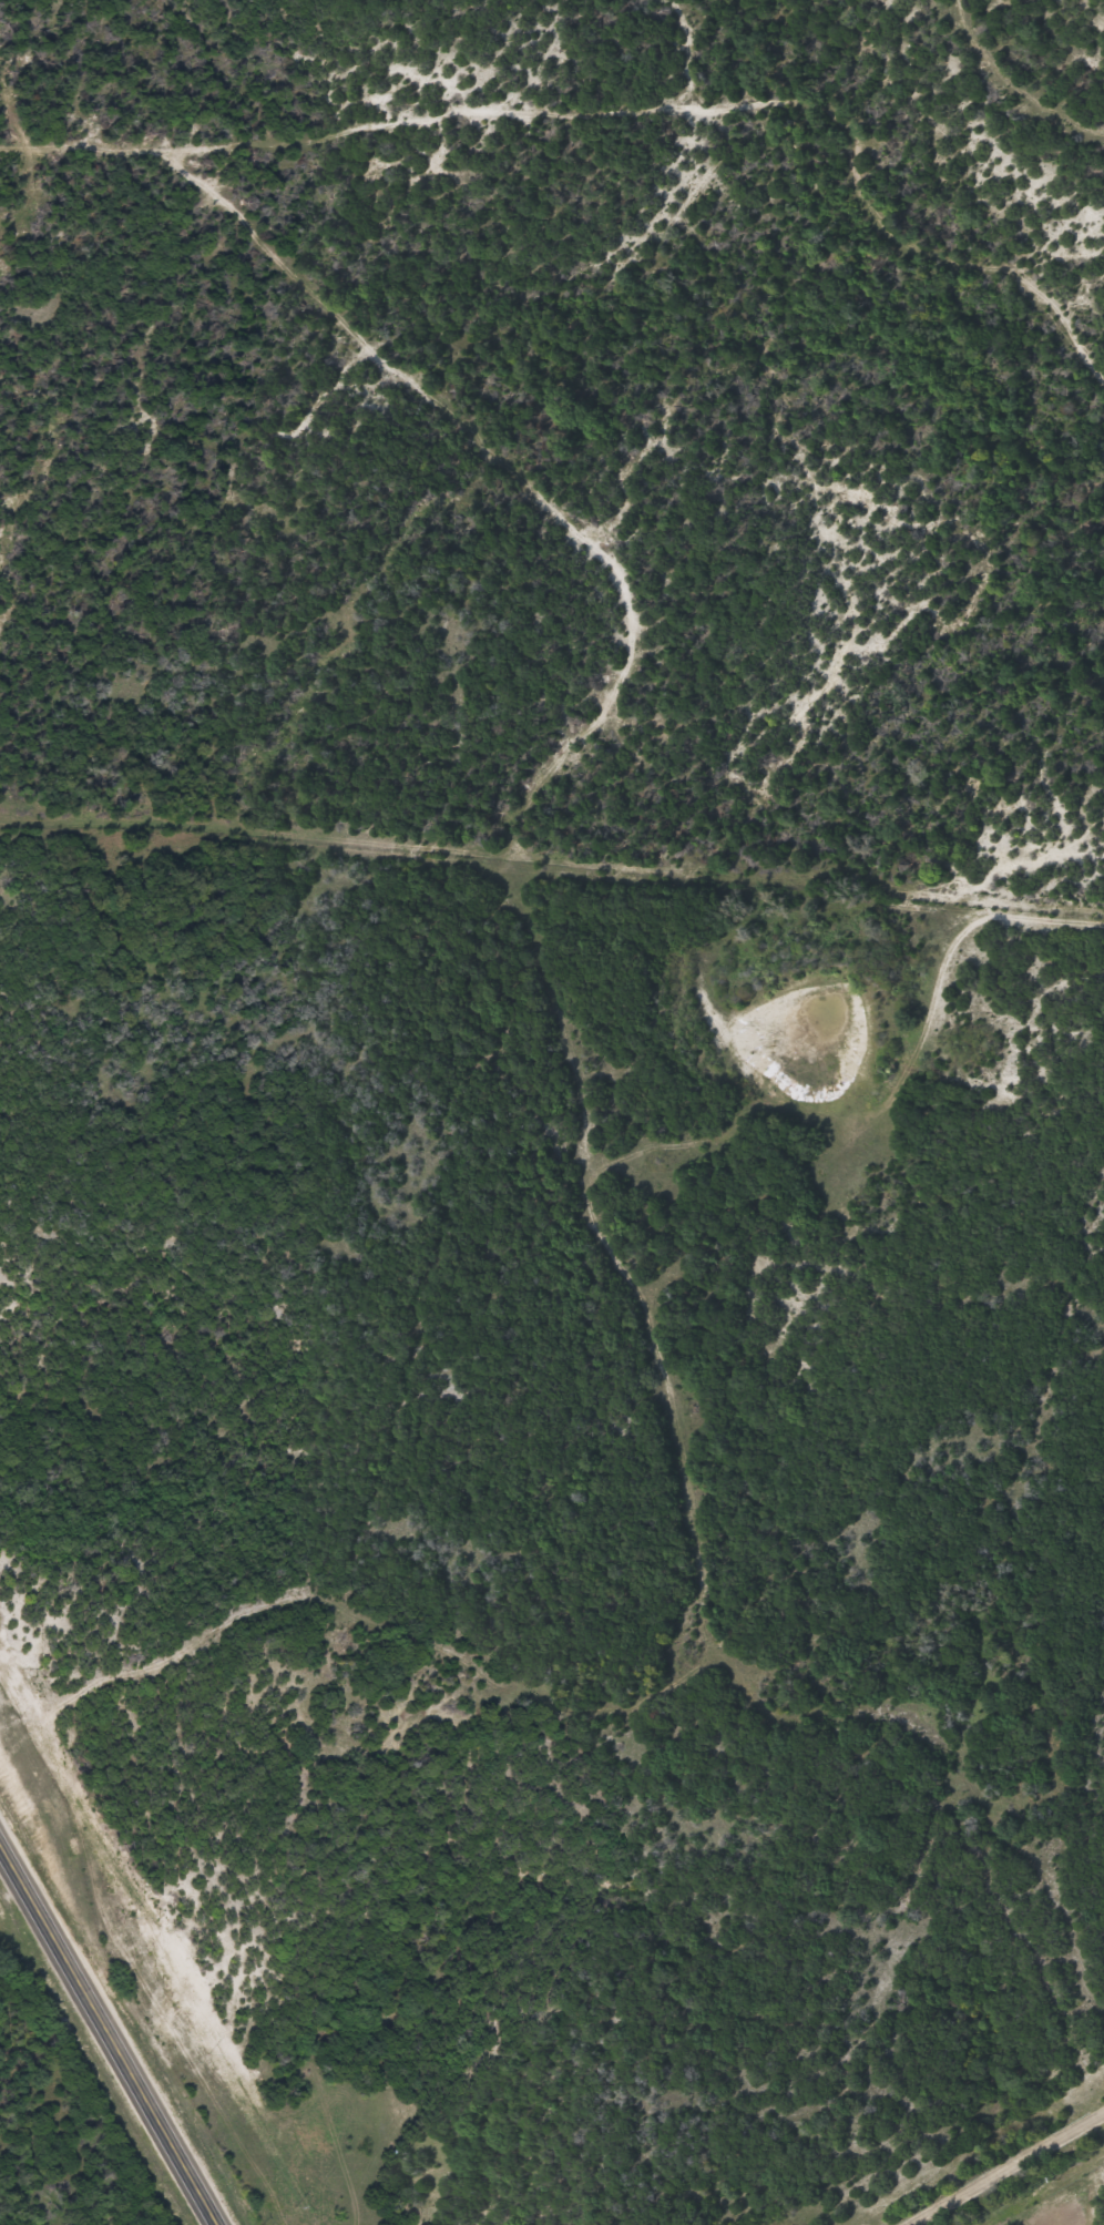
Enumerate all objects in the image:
road: (111, 2029)
road: (1001, 2165)

